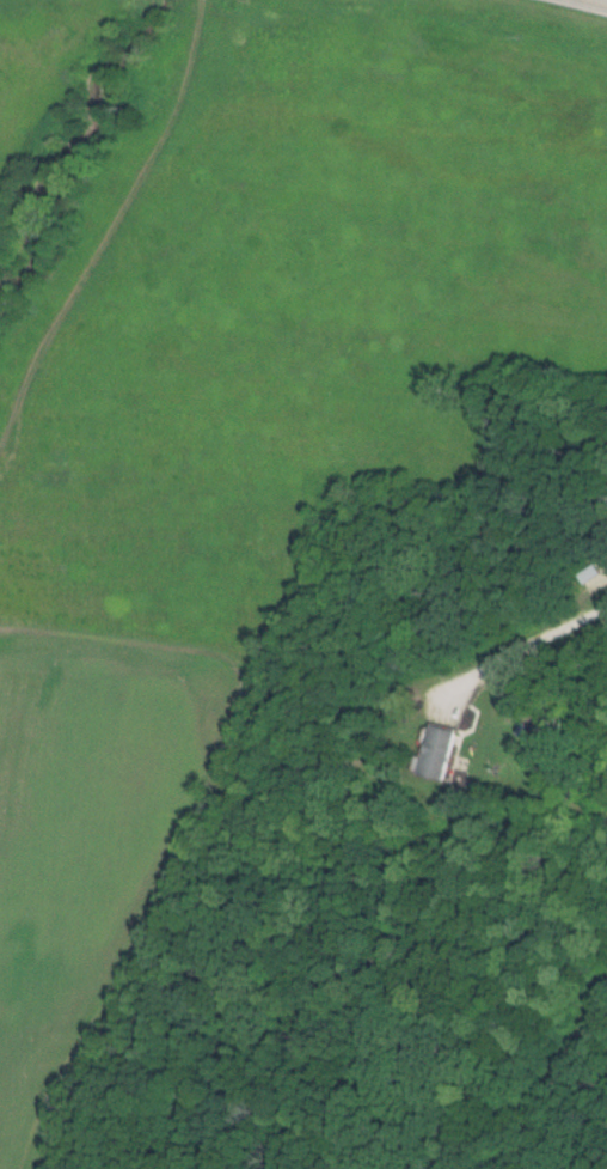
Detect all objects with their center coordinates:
road: (585, 5)
building: (439, 753)

